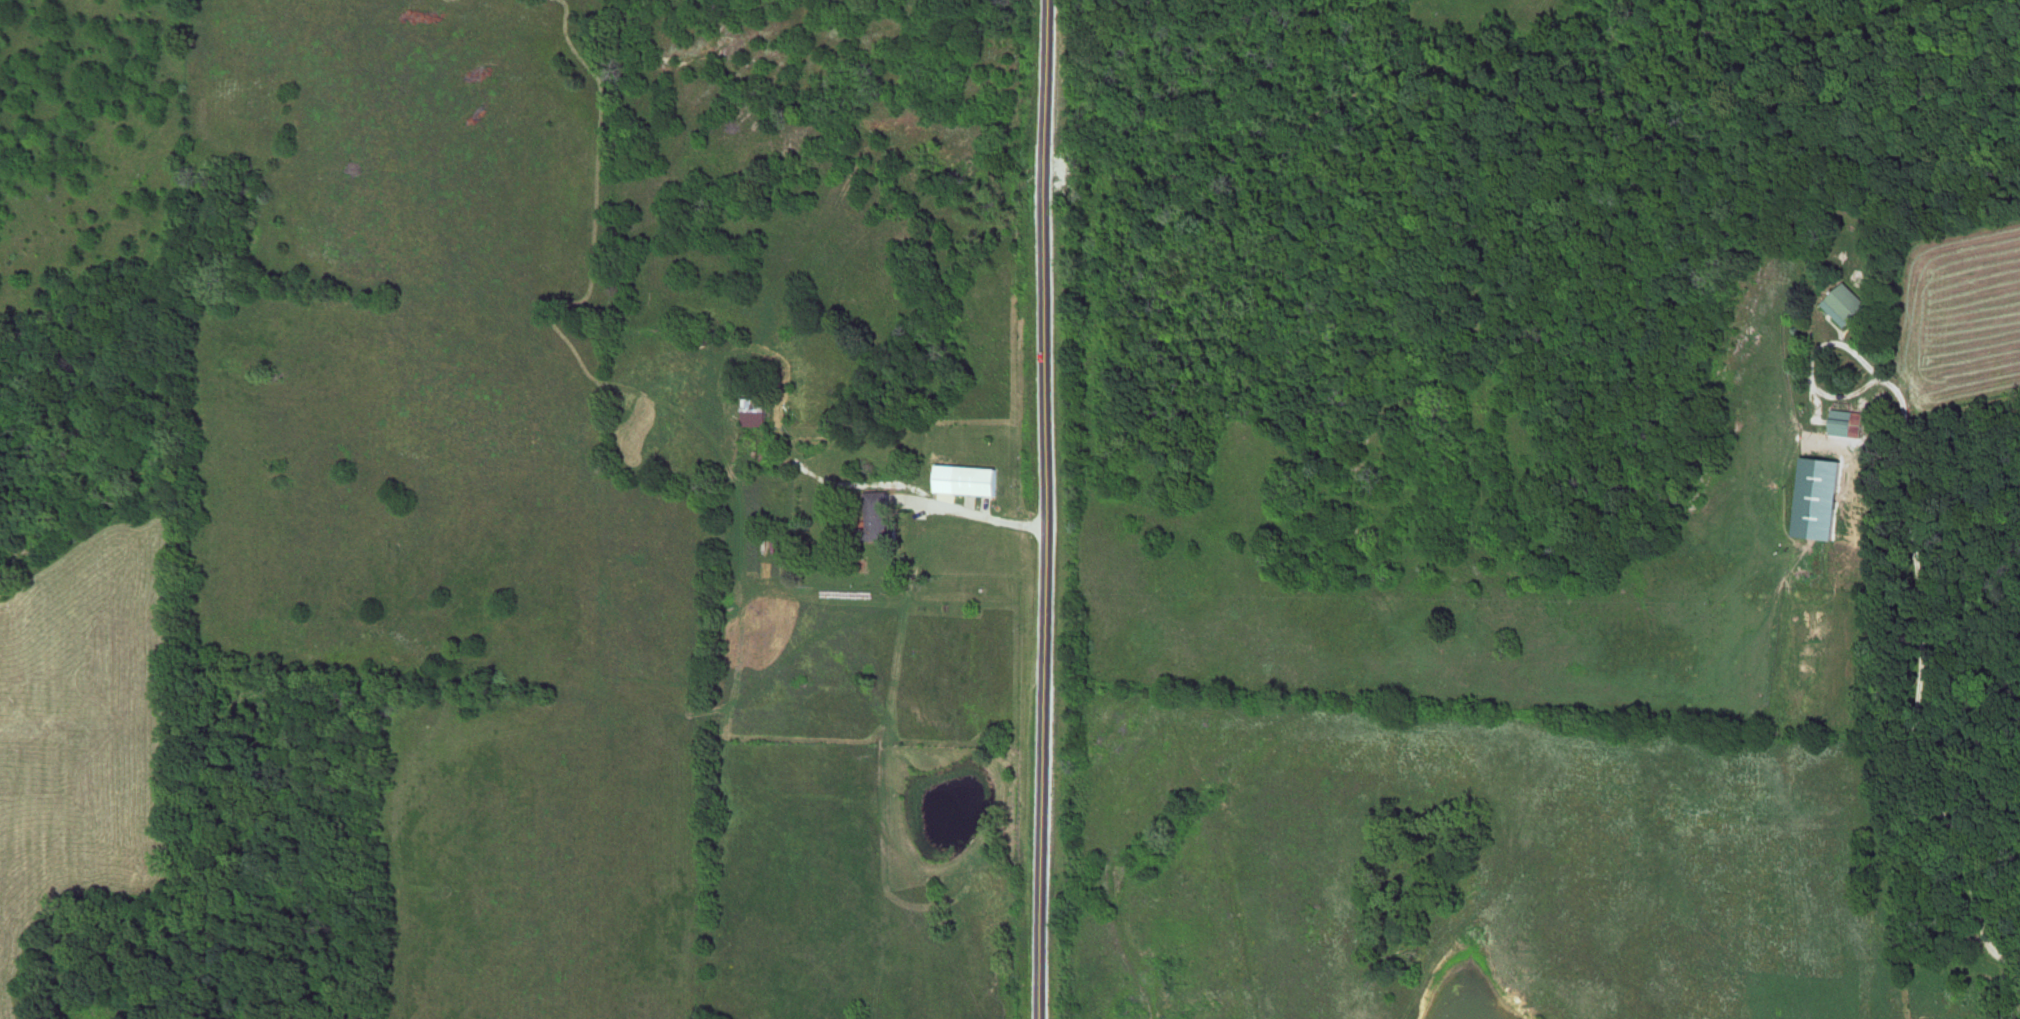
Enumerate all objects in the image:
building: (1842, 305)
road: (1812, 370)
building: (749, 414)
building: (1835, 428)
building: (973, 482)
building: (1814, 500)
road: (1048, 509)
road: (981, 519)
building: (869, 532)
road: (1917, 687)

